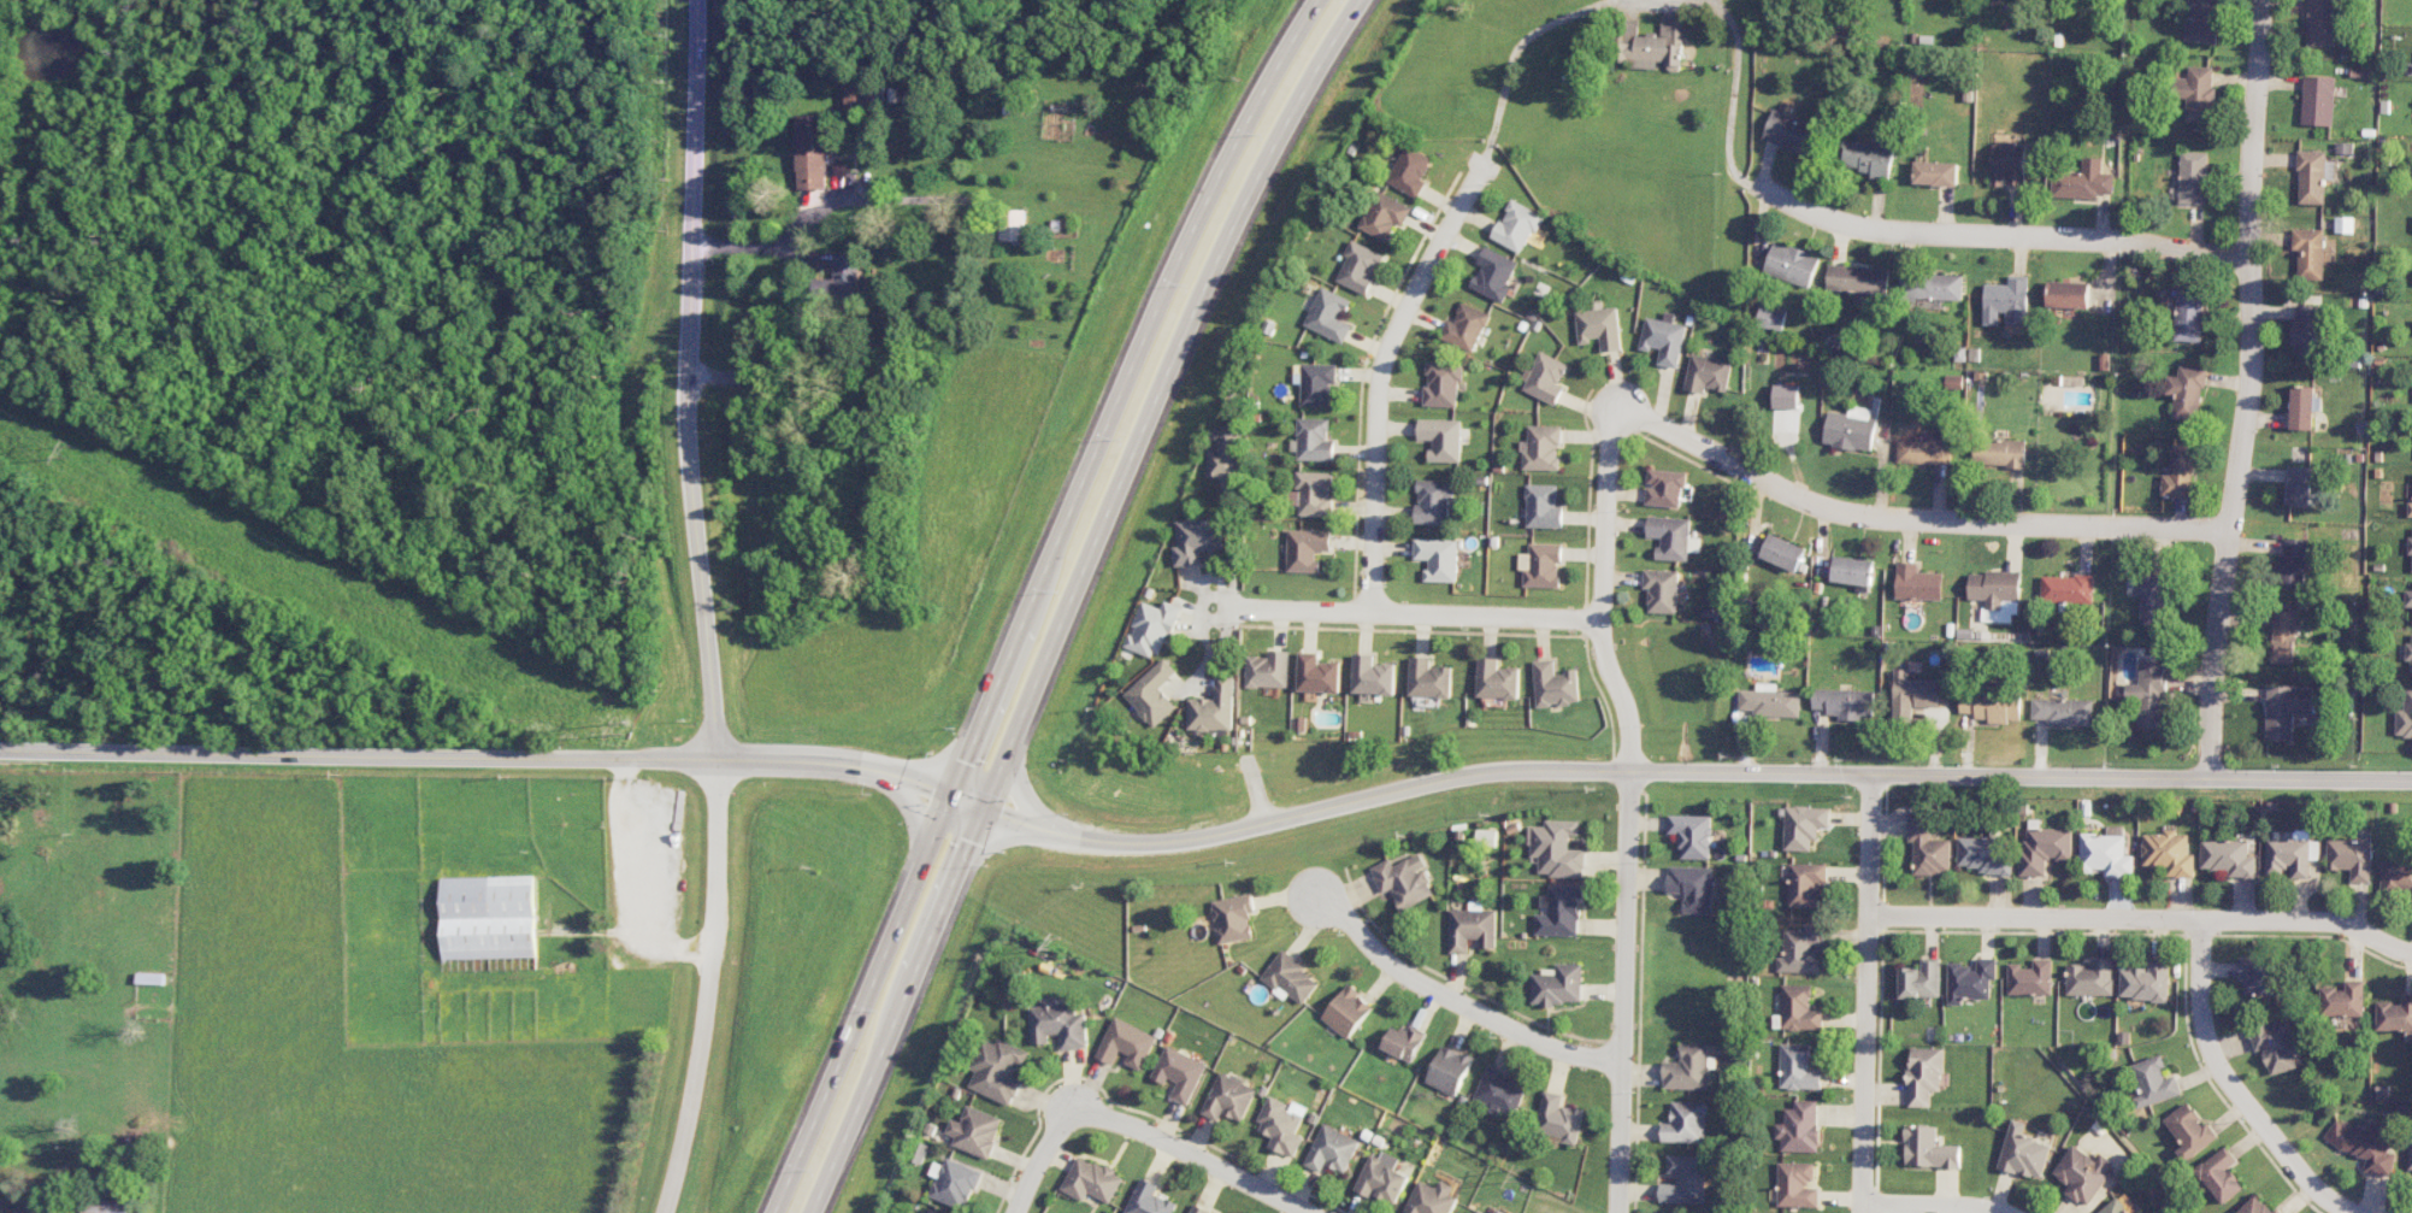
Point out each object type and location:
building: (2202, 20)
building: (2322, 23)
road: (1521, 41)
building: (1652, 45)
road: (1733, 89)
building: (2198, 93)
building: (859, 99)
building: (2318, 100)
building: (1791, 131)
building: (813, 152)
building: (1868, 158)
building: (2009, 163)
building: (1410, 171)
building: (1935, 173)
building: (2193, 177)
building: (2311, 177)
building: (2082, 181)
building: (1385, 216)
building: (1013, 225)
building: (1516, 226)
road: (1992, 234)
road: (759, 246)
building: (2310, 253)
building: (1791, 264)
building: (1360, 267)
building: (1493, 273)
building: (1857, 279)
building: (843, 285)
building: (2068, 294)
building: (2006, 301)
building: (2189, 314)
building: (1329, 316)
building: (1771, 318)
building: (1466, 328)
building: (1598, 328)
building: (2308, 330)
building: (1663, 338)
road: (1382, 364)
building: (1708, 373)
building: (1545, 377)
road: (691, 379)
building: (1443, 383)
building: (1317, 384)
road: (2248, 389)
building: (2186, 391)
building: (2301, 407)
building: (1850, 429)
building: (1441, 438)
building: (1314, 440)
building: (1541, 448)
building: (1923, 451)
building: (1226, 453)
building: (1999, 453)
power tower: (70, 454)
building: (2180, 472)
building: (2299, 485)
building: (1664, 488)
building: (1311, 494)
building: (1433, 501)
building: (1543, 506)
building: (2410, 510)
road: (1907, 518)
building: (1670, 536)
building: (1197, 538)
building: (2411, 541)
building: (1307, 548)
building: (1783, 552)
building: (1437, 558)
building: (2294, 561)
building: (1540, 565)
building: (1853, 572)
building: (1917, 583)
building: (2066, 588)
road: (1603, 590)
building: (1662, 590)
building: (1995, 594)
road: (1071, 597)
building: (2408, 597)
road: (1033, 600)
building: (2152, 600)
road: (1429, 613)
building: (1151, 629)
building: (2284, 636)
building: (2408, 652)
building: (1268, 670)
building: (1317, 673)
building: (1372, 676)
building: (1428, 678)
building: (1497, 679)
building: (1555, 684)
building: (1152, 694)
building: (1912, 694)
building: (2149, 695)
building: (1770, 701)
building: (1845, 702)
building: (1992, 705)
building: (1214, 707)
building: (2064, 711)
building: (2289, 711)
building: (2405, 717)
power tower: (620, 729)
road: (495, 756)
road: (1689, 772)
traffic signals: (949, 794)
road: (1024, 799)
road: (912, 807)
traffic signals: (983, 807)
building: (1804, 826)
building: (1693, 835)
road: (997, 844)
building: (1929, 847)
building: (1557, 848)
building: (2045, 848)
building: (2170, 852)
building: (1987, 854)
building: (2106, 854)
building: (2292, 856)
building: (2229, 858)
building: (2352, 858)
building: (2396, 877)
building: (1404, 881)
building: (1807, 884)
building: (1694, 887)
building: (1559, 911)
building: (488, 917)
building: (1233, 918)
road: (2143, 918)
building: (1472, 929)
power tower: (1054, 946)
building: (1803, 948)
building: (2259, 974)
building: (1290, 978)
building: (2031, 978)
building: (2090, 978)
building: (1922, 979)
building: (1971, 981)
building: (2146, 982)
building: (1558, 985)
road: (709, 988)
road: (1624, 993)
road: (1867, 994)
building: (2345, 1000)
road: (1456, 1001)
building: (1798, 1009)
building: (1347, 1012)
building: (2395, 1014)
building: (1058, 1024)
building: (1404, 1042)
building: (1126, 1043)
building: (2277, 1046)
building: (1798, 1067)
building: (1688, 1068)
building: (997, 1070)
building: (1449, 1070)
building: (1180, 1072)
building: (1924, 1074)
building: (2156, 1082)
road: (2234, 1087)
building: (1499, 1091)
building: (1229, 1099)
building: (1558, 1118)
building: (1686, 1123)
building: (1282, 1125)
building: (1799, 1127)
building: (975, 1131)
building: (2192, 1131)
building: (2365, 1144)
building: (1928, 1148)
building: (1332, 1149)
building: (2024, 1152)
building: (2410, 1153)
road: (1191, 1154)
road: (1040, 1156)
building: (2083, 1173)
building: (2222, 1174)
building: (1382, 1178)
power tower: (1515, 1178)
building: (1091, 1180)
building: (1685, 1180)
building: (954, 1183)
building: (1795, 1185)
building: (1149, 1199)
building: (1432, 1199)
building: (107, 1205)
road: (1930, 1205)
building: (2259, 1206)
building: (28, 1207)
building: (2116, 1207)
building: (1198, 1209)
building: (932, 1212)
building: (1480, 1212)
building: (1498, 1212)

